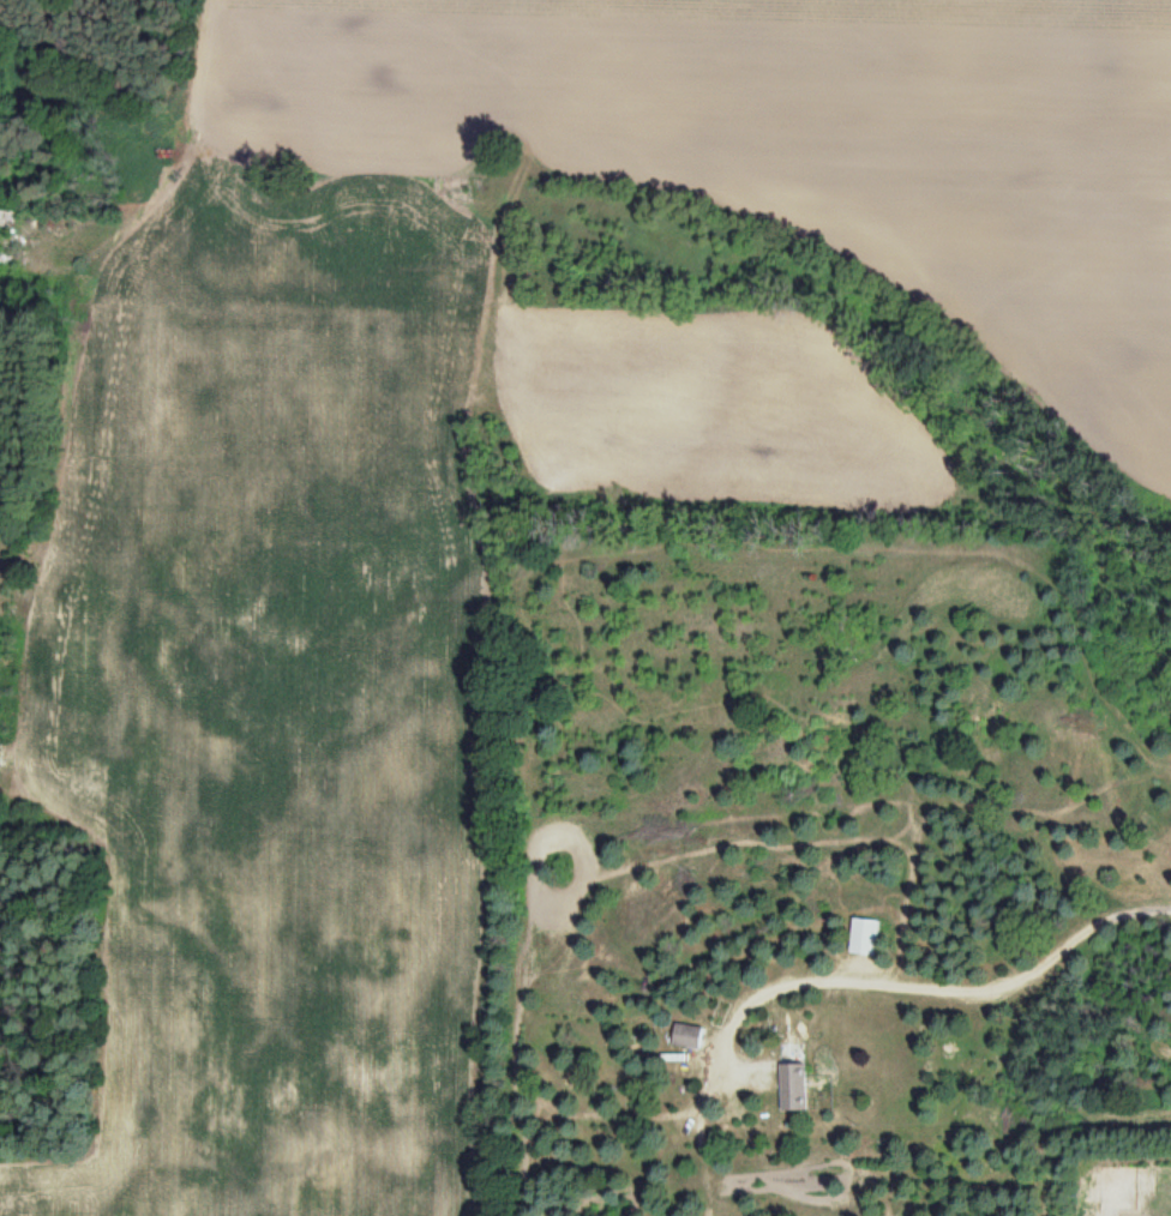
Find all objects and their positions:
building: (7, 219)
building: (863, 938)
road: (923, 987)
building: (687, 1037)
building: (793, 1088)

